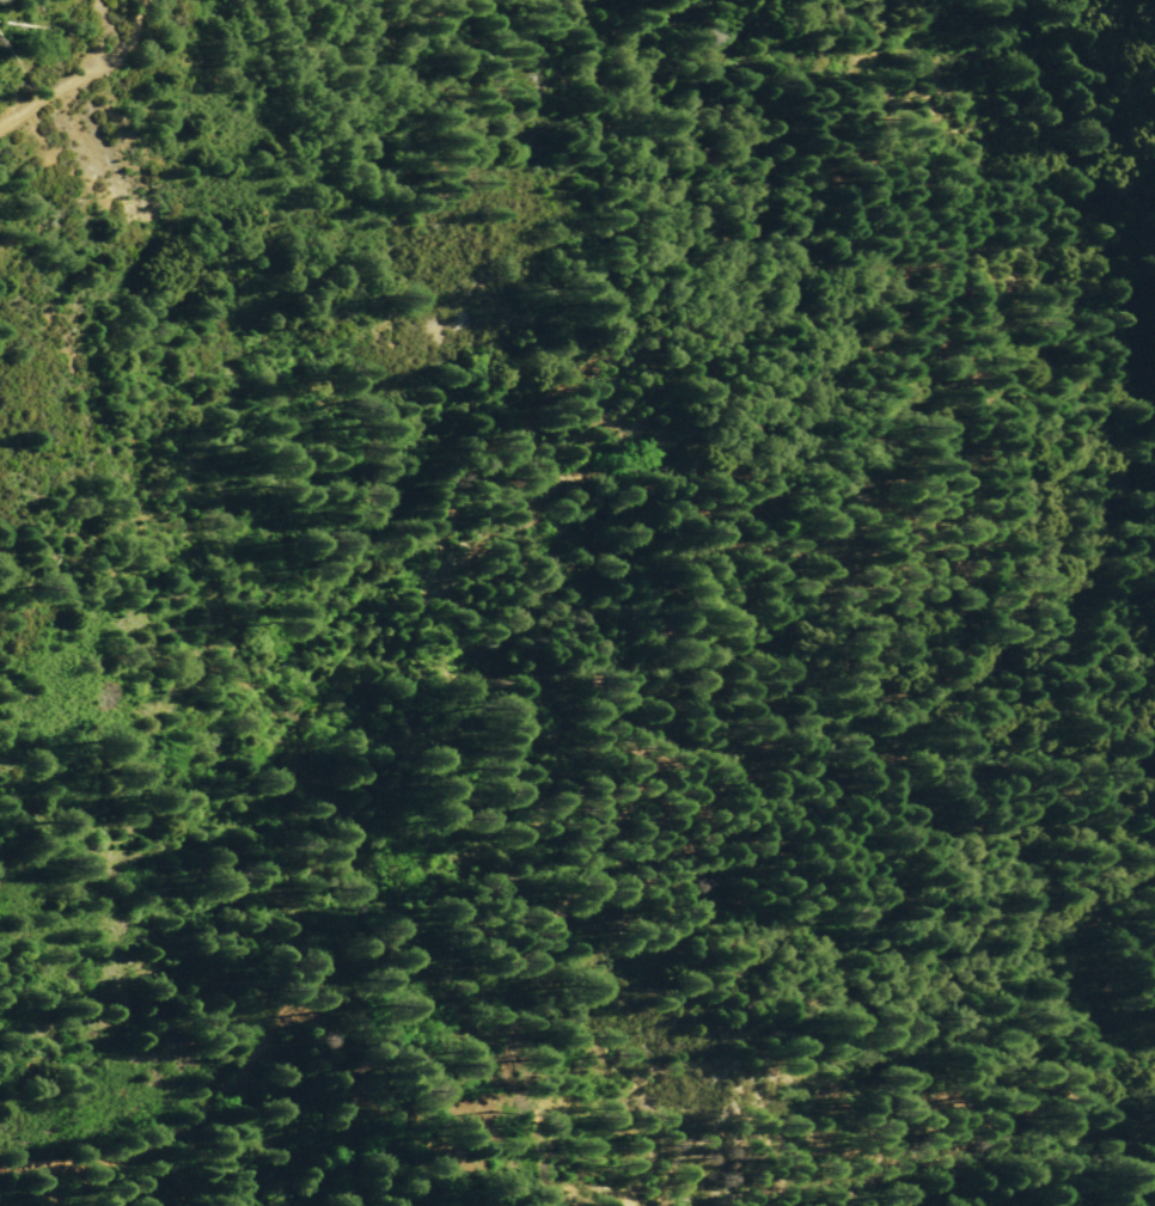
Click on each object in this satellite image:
road: (91, 78)
road: (1008, 437)
road: (464, 535)
road: (317, 1120)
road: (137, 1151)
road: (20, 1184)

